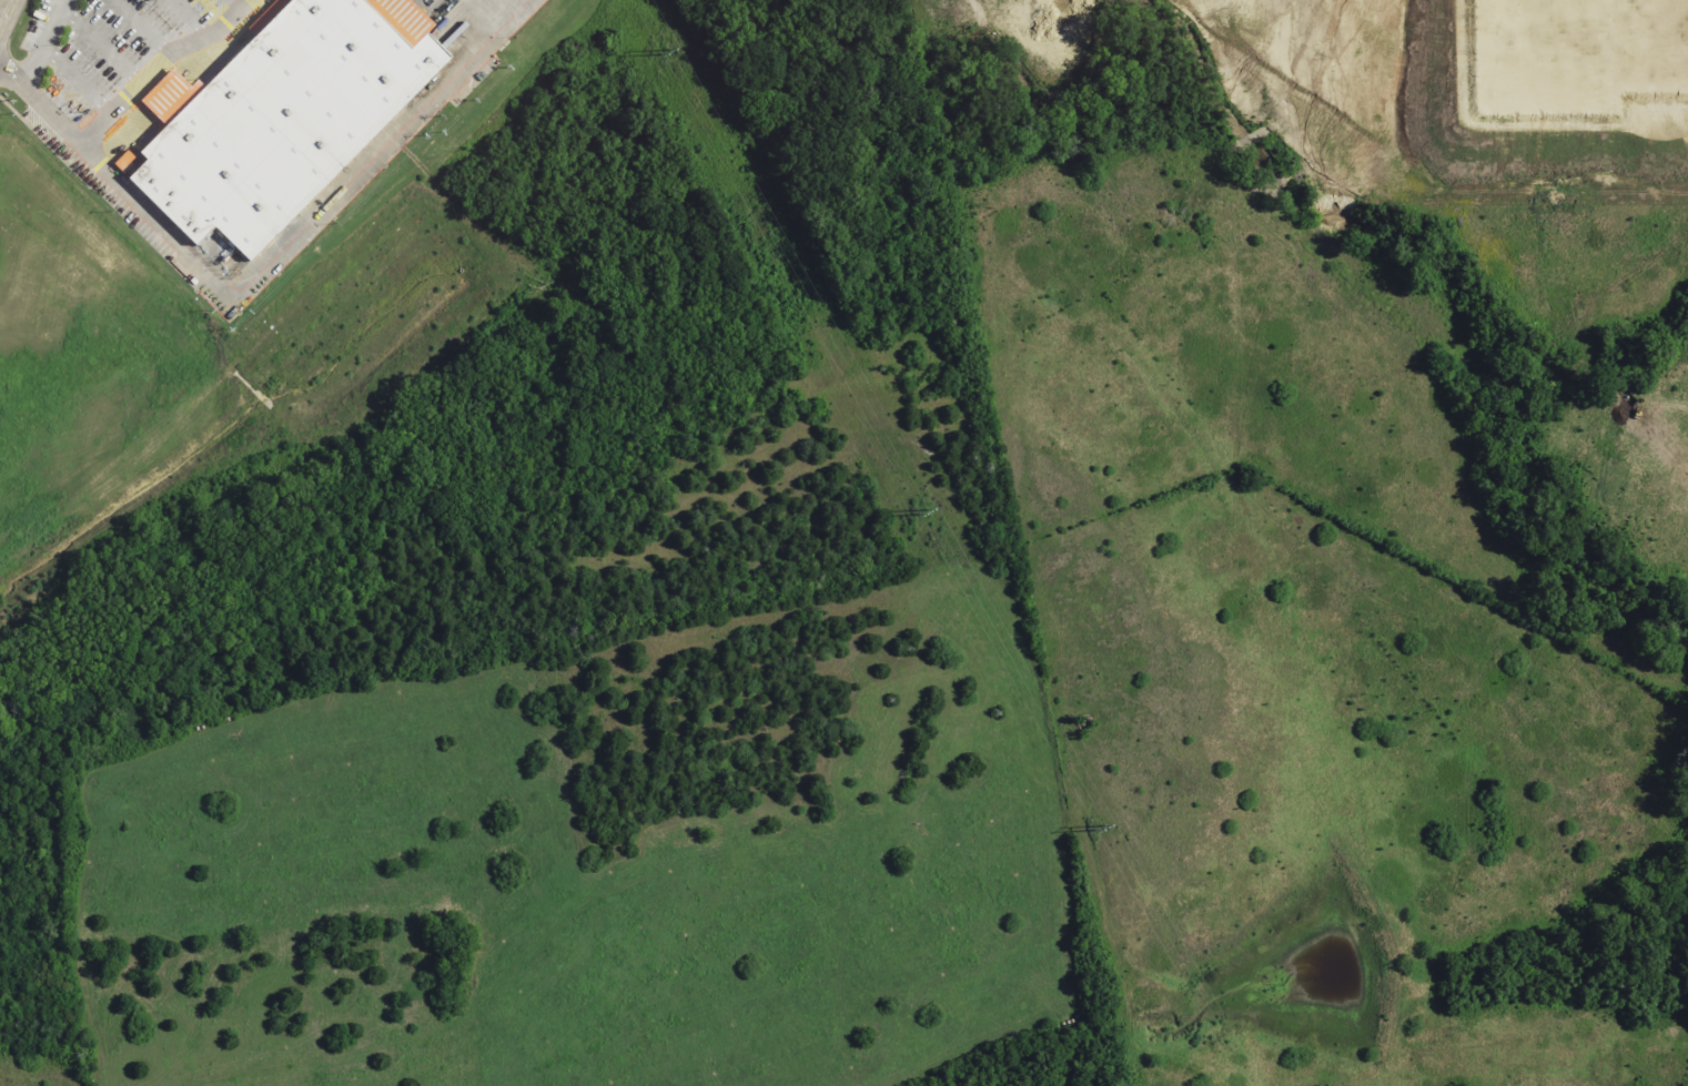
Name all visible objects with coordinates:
road: (233, 2)
road: (7, 14)
road: (188, 17)
building: (1656, 27)
road: (143, 31)
building: (1546, 39)
road: (44, 44)
road: (104, 49)
power tower: (666, 53)
parking lot: (99, 69)
road: (79, 82)
road: (120, 113)
road: (1522, 116)
building: (280, 122)
road: (302, 227)
power tower: (922, 511)
power tower: (1098, 829)
road: (617, 892)
road: (312, 902)

